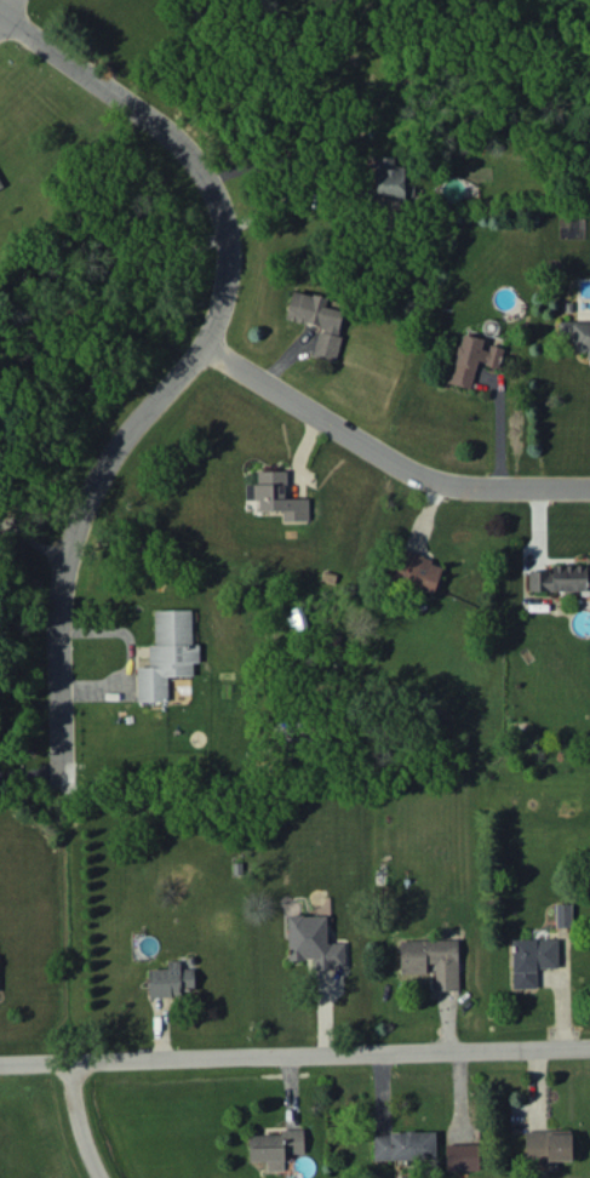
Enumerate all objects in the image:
building: (389, 178)
building: (0, 187)
building: (317, 321)
building: (578, 334)
building: (471, 358)
road: (178, 359)
road: (384, 444)
building: (276, 496)
road: (30, 544)
building: (417, 570)
building: (560, 578)
building: (167, 653)
road: (125, 658)
road: (29, 777)
building: (562, 914)
building: (313, 942)
building: (532, 959)
building: (431, 960)
building: (170, 979)
road: (294, 1054)
road: (74, 1122)
building: (548, 1144)
building: (403, 1145)
building: (275, 1146)
building: (462, 1156)

